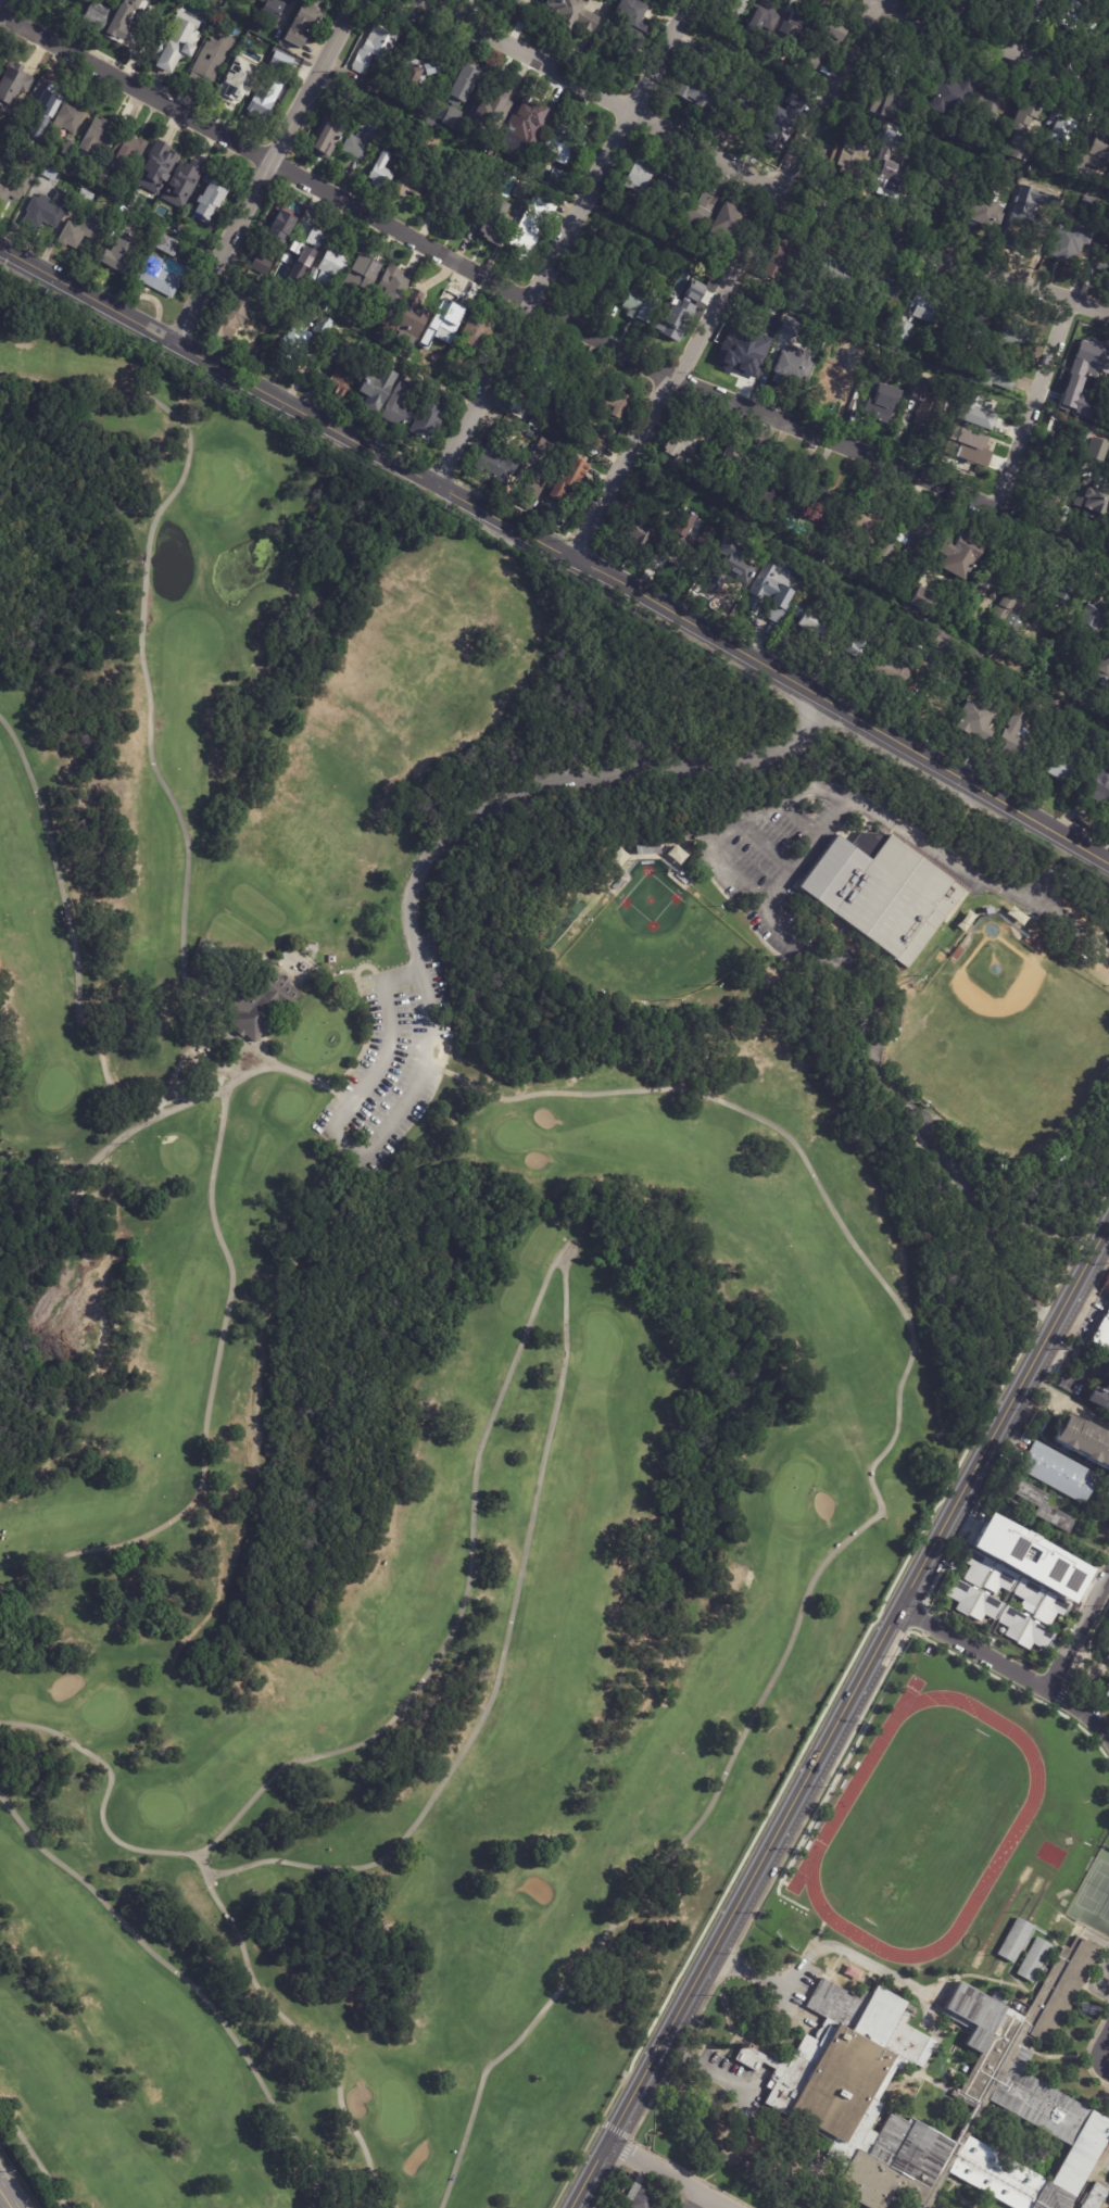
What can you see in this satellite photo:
building: (292, 0)
building: (506, 0)
building: (175, 2)
building: (518, 2)
road: (4, 7)
building: (739, 9)
building: (270, 10)
building: (1073, 13)
building: (574, 14)
building: (98, 18)
building: (767, 20)
building: (303, 22)
building: (798, 24)
road: (1032, 27)
building: (1100, 28)
building: (642, 29)
building: (836, 33)
building: (139, 39)
building: (181, 45)
road: (997, 45)
building: (378, 48)
building: (215, 59)
building: (894, 59)
building: (283, 62)
building: (930, 63)
building: (421, 76)
building: (467, 78)
building: (239, 84)
building: (723, 85)
building: (12, 90)
building: (952, 91)
building: (267, 94)
building: (352, 101)
building: (890, 102)
building: (993, 103)
building: (432, 104)
building: (43, 106)
building: (493, 108)
building: (453, 117)
building: (530, 119)
building: (70, 121)
building: (1019, 124)
building: (1056, 131)
building: (389, 134)
building: (100, 137)
building: (328, 138)
building: (364, 142)
building: (569, 143)
building: (432, 146)
building: (70, 149)
building: (1096, 150)
building: (31, 151)
building: (128, 153)
building: (849, 154)
building: (0, 156)
building: (156, 169)
road: (263, 169)
building: (383, 173)
building: (51, 175)
building: (883, 175)
building: (643, 176)
road: (755, 178)
building: (558, 179)
building: (102, 182)
building: (415, 184)
building: (450, 184)
building: (186, 185)
building: (16, 188)
building: (675, 190)
building: (525, 192)
building: (1107, 192)
building: (215, 197)
building: (471, 202)
building: (1094, 206)
building: (981, 207)
building: (621, 210)
building: (55, 211)
building: (701, 219)
building: (127, 224)
building: (534, 227)
building: (727, 228)
building: (281, 229)
building: (83, 232)
building: (496, 232)
building: (620, 239)
road: (558, 241)
building: (1067, 242)
building: (171, 248)
building: (308, 249)
building: (710, 256)
building: (772, 257)
building: (122, 258)
building: (300, 263)
building: (262, 265)
building: (337, 265)
building: (644, 267)
building: (1101, 268)
building: (833, 270)
building: (595, 275)
building: (161, 279)
building: (364, 281)
road: (726, 281)
building: (391, 285)
building: (885, 290)
building: (388, 303)
building: (645, 306)
building: (921, 306)
road: (544, 311)
building: (680, 313)
building: (448, 315)
building: (416, 319)
building: (973, 320)
building: (231, 326)
building: (787, 326)
building: (328, 329)
building: (900, 330)
building: (1010, 333)
building: (476, 337)
building: (301, 345)
building: (738, 350)
building: (443, 353)
building: (853, 355)
building: (783, 370)
building: (994, 370)
building: (450, 375)
building: (345, 378)
building: (1081, 379)
building: (539, 382)
building: (828, 386)
building: (575, 388)
building: (379, 390)
building: (879, 394)
road: (1034, 402)
building: (400, 403)
building: (616, 404)
building: (925, 407)
building: (972, 411)
building: (430, 415)
building: (533, 426)
building: (1053, 426)
building: (563, 428)
building: (1080, 436)
building: (685, 439)
building: (1060, 444)
building: (966, 445)
building: (547, 449)
building: (1095, 450)
building: (492, 455)
building: (731, 459)
building: (1087, 462)
building: (1053, 463)
building: (767, 471)
park: (223, 480)
building: (574, 483)
building: (532, 489)
building: (1093, 493)
building: (771, 494)
building: (829, 501)
building: (864, 520)
building: (743, 527)
building: (912, 530)
building: (633, 532)
building: (691, 542)
building: (961, 546)
building: (884, 551)
road: (554, 555)
building: (731, 571)
building: (983, 579)
building: (1060, 594)
building: (763, 595)
building: (993, 595)
building: (921, 597)
building: (856, 601)
building: (1004, 607)
building: (1019, 608)
building: (804, 619)
building: (1088, 619)
building: (1064, 628)
building: (860, 643)
building: (948, 648)
building: (1102, 668)
building: (890, 671)
road: (143, 674)
building: (1010, 694)
road: (925, 710)
building: (969, 720)
building: (1079, 720)
building: (1012, 737)
building: (1061, 765)
building: (1097, 778)
road: (733, 822)
building: (867, 841)
building: (644, 848)
building: (676, 854)
building: (1060, 884)
building: (882, 894)
road: (409, 910)
building: (984, 911)
building: (1016, 916)
parking lot: (786, 921)
road: (797, 939)
road: (72, 941)
park: (654, 941)
building: (547, 943)
building: (1029, 944)
building: (954, 954)
building: (260, 1005)
building: (892, 1033)
park: (317, 1036)
park: (1007, 1038)
parking lot: (392, 1062)
park: (53, 1084)
park: (516, 1135)
road: (1036, 1202)
road: (231, 1277)
road: (565, 1287)
park: (386, 1326)
building: (1101, 1332)
road: (913, 1337)
park: (602, 1345)
building: (1099, 1397)
road: (1068, 1399)
building: (1084, 1440)
building: (1057, 1473)
park: (795, 1490)
building: (1038, 1505)
building: (1032, 1555)
building: (976, 1565)
building: (1000, 1577)
building: (1029, 1591)
building: (962, 1593)
building: (986, 1605)
building: (1050, 1606)
building: (1012, 1619)
road: (1078, 1633)
building: (1035, 1635)
building: (1105, 1651)
road: (1008, 1667)
building: (1106, 1693)
park: (102, 1709)
road: (843, 1717)
road: (106, 1790)
park: (162, 1807)
park: (929, 1819)
track: (830, 1829)
park: (1095, 1889)
park: (1093, 1896)
park: (1106, 1913)
building: (1013, 1940)
road: (1097, 1941)
road: (818, 1951)
building: (1031, 1958)
building: (852, 1972)
road: (1098, 1981)
road: (187, 1982)
road: (303, 2036)
road: (1104, 2037)
building: (748, 2056)
road: (1101, 2059)
road: (709, 2074)
building: (830, 2074)
parking lot: (726, 2084)
park: (395, 2109)
road: (33, 2157)
road: (669, 2175)
building: (1108, 2181)
building: (1108, 2183)
building: (1092, 2196)
building: (640, 2197)
road: (693, 2199)
road: (4, 2200)
building: (616, 2205)

